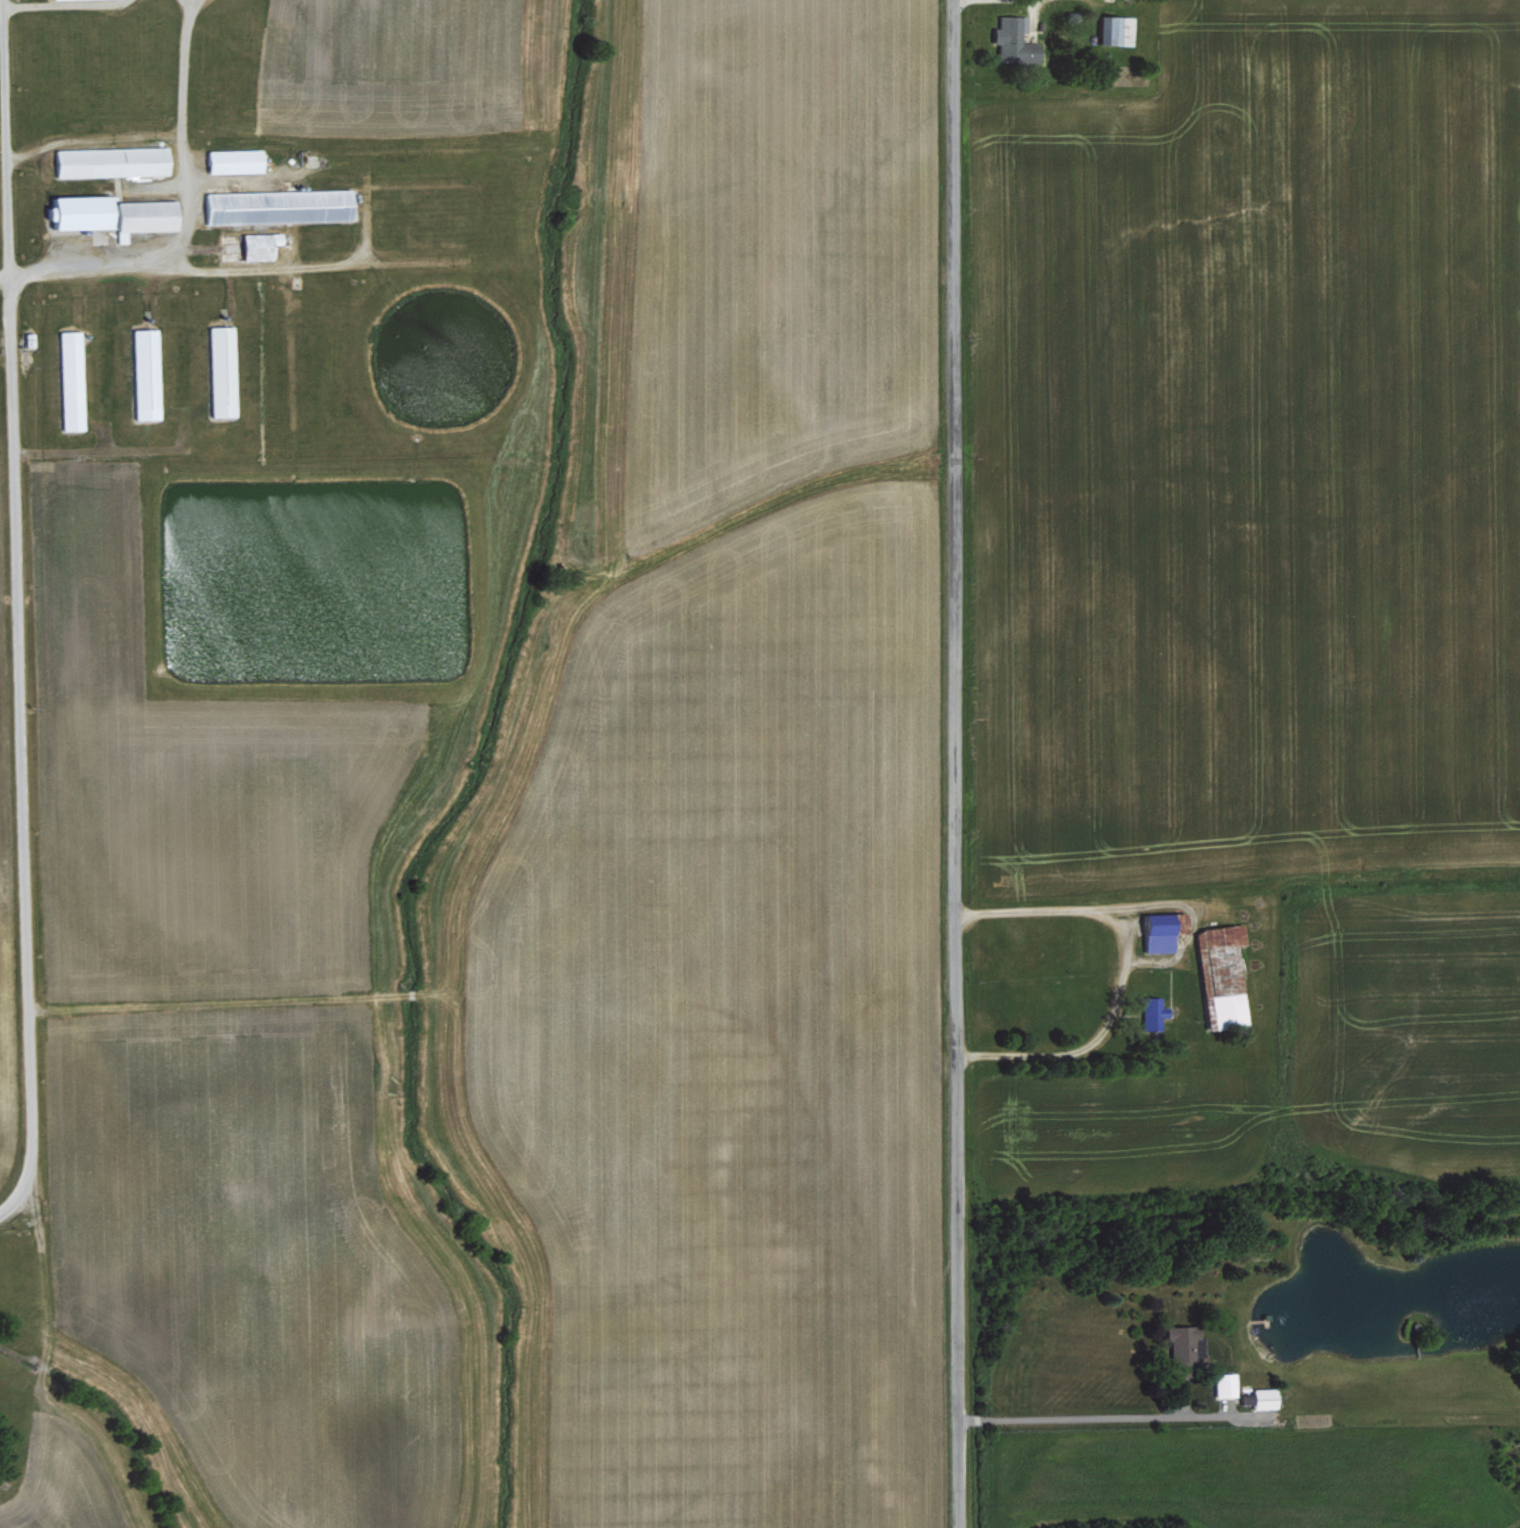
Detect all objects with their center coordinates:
building: (1117, 28)
building: (1015, 39)
road: (3, 85)
building: (112, 160)
building: (235, 160)
building: (279, 205)
road: (185, 210)
building: (113, 213)
building: (260, 244)
building: (223, 370)
building: (147, 372)
building: (72, 379)
road: (18, 747)
road: (951, 764)
building: (1164, 928)
building: (1224, 969)
road: (1119, 974)
building: (1182, 1340)
building: (1225, 1383)
building: (1262, 1396)
road: (1072, 1415)

